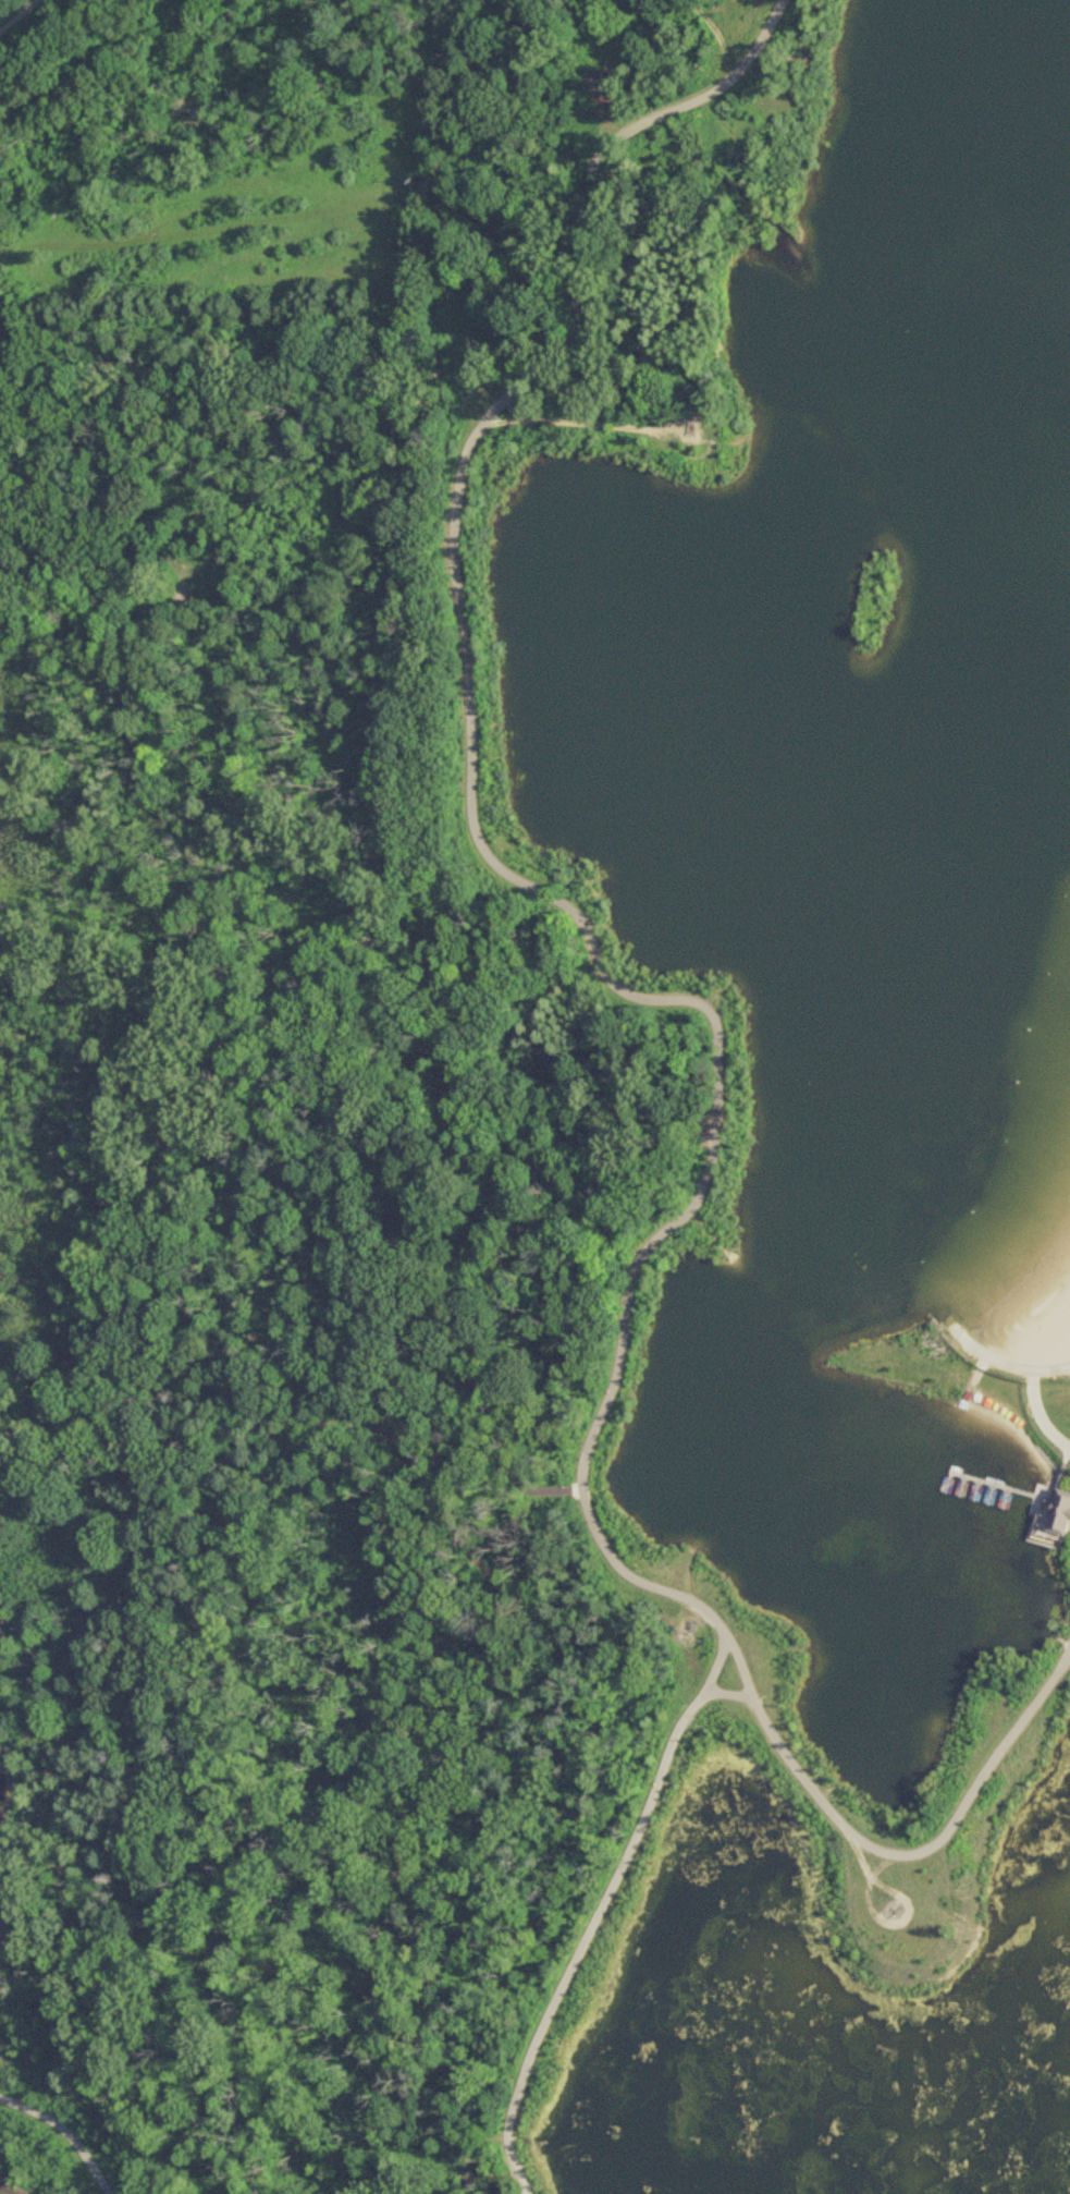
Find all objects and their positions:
road: (12, 9)
road: (649, 428)
road: (502, 869)
park: (537, 1100)
road: (999, 1362)
road: (1038, 1414)
road: (343, 1423)
road: (269, 1430)
road: (470, 1446)
road: (1066, 1454)
road: (1060, 1475)
road: (946, 1480)
road: (960, 1485)
road: (995, 1485)
road: (578, 1488)
road: (974, 1489)
road: (988, 1494)
road: (1003, 1498)
building: (1059, 1513)
road: (1034, 1526)
road: (1068, 1535)
road: (213, 1565)
road: (718, 1667)
road: (743, 1672)
road: (733, 1695)
road: (925, 1850)
road: (10, 1855)
road: (906, 1913)
road: (587, 1937)
road: (65, 2132)
road: (3, 2191)

